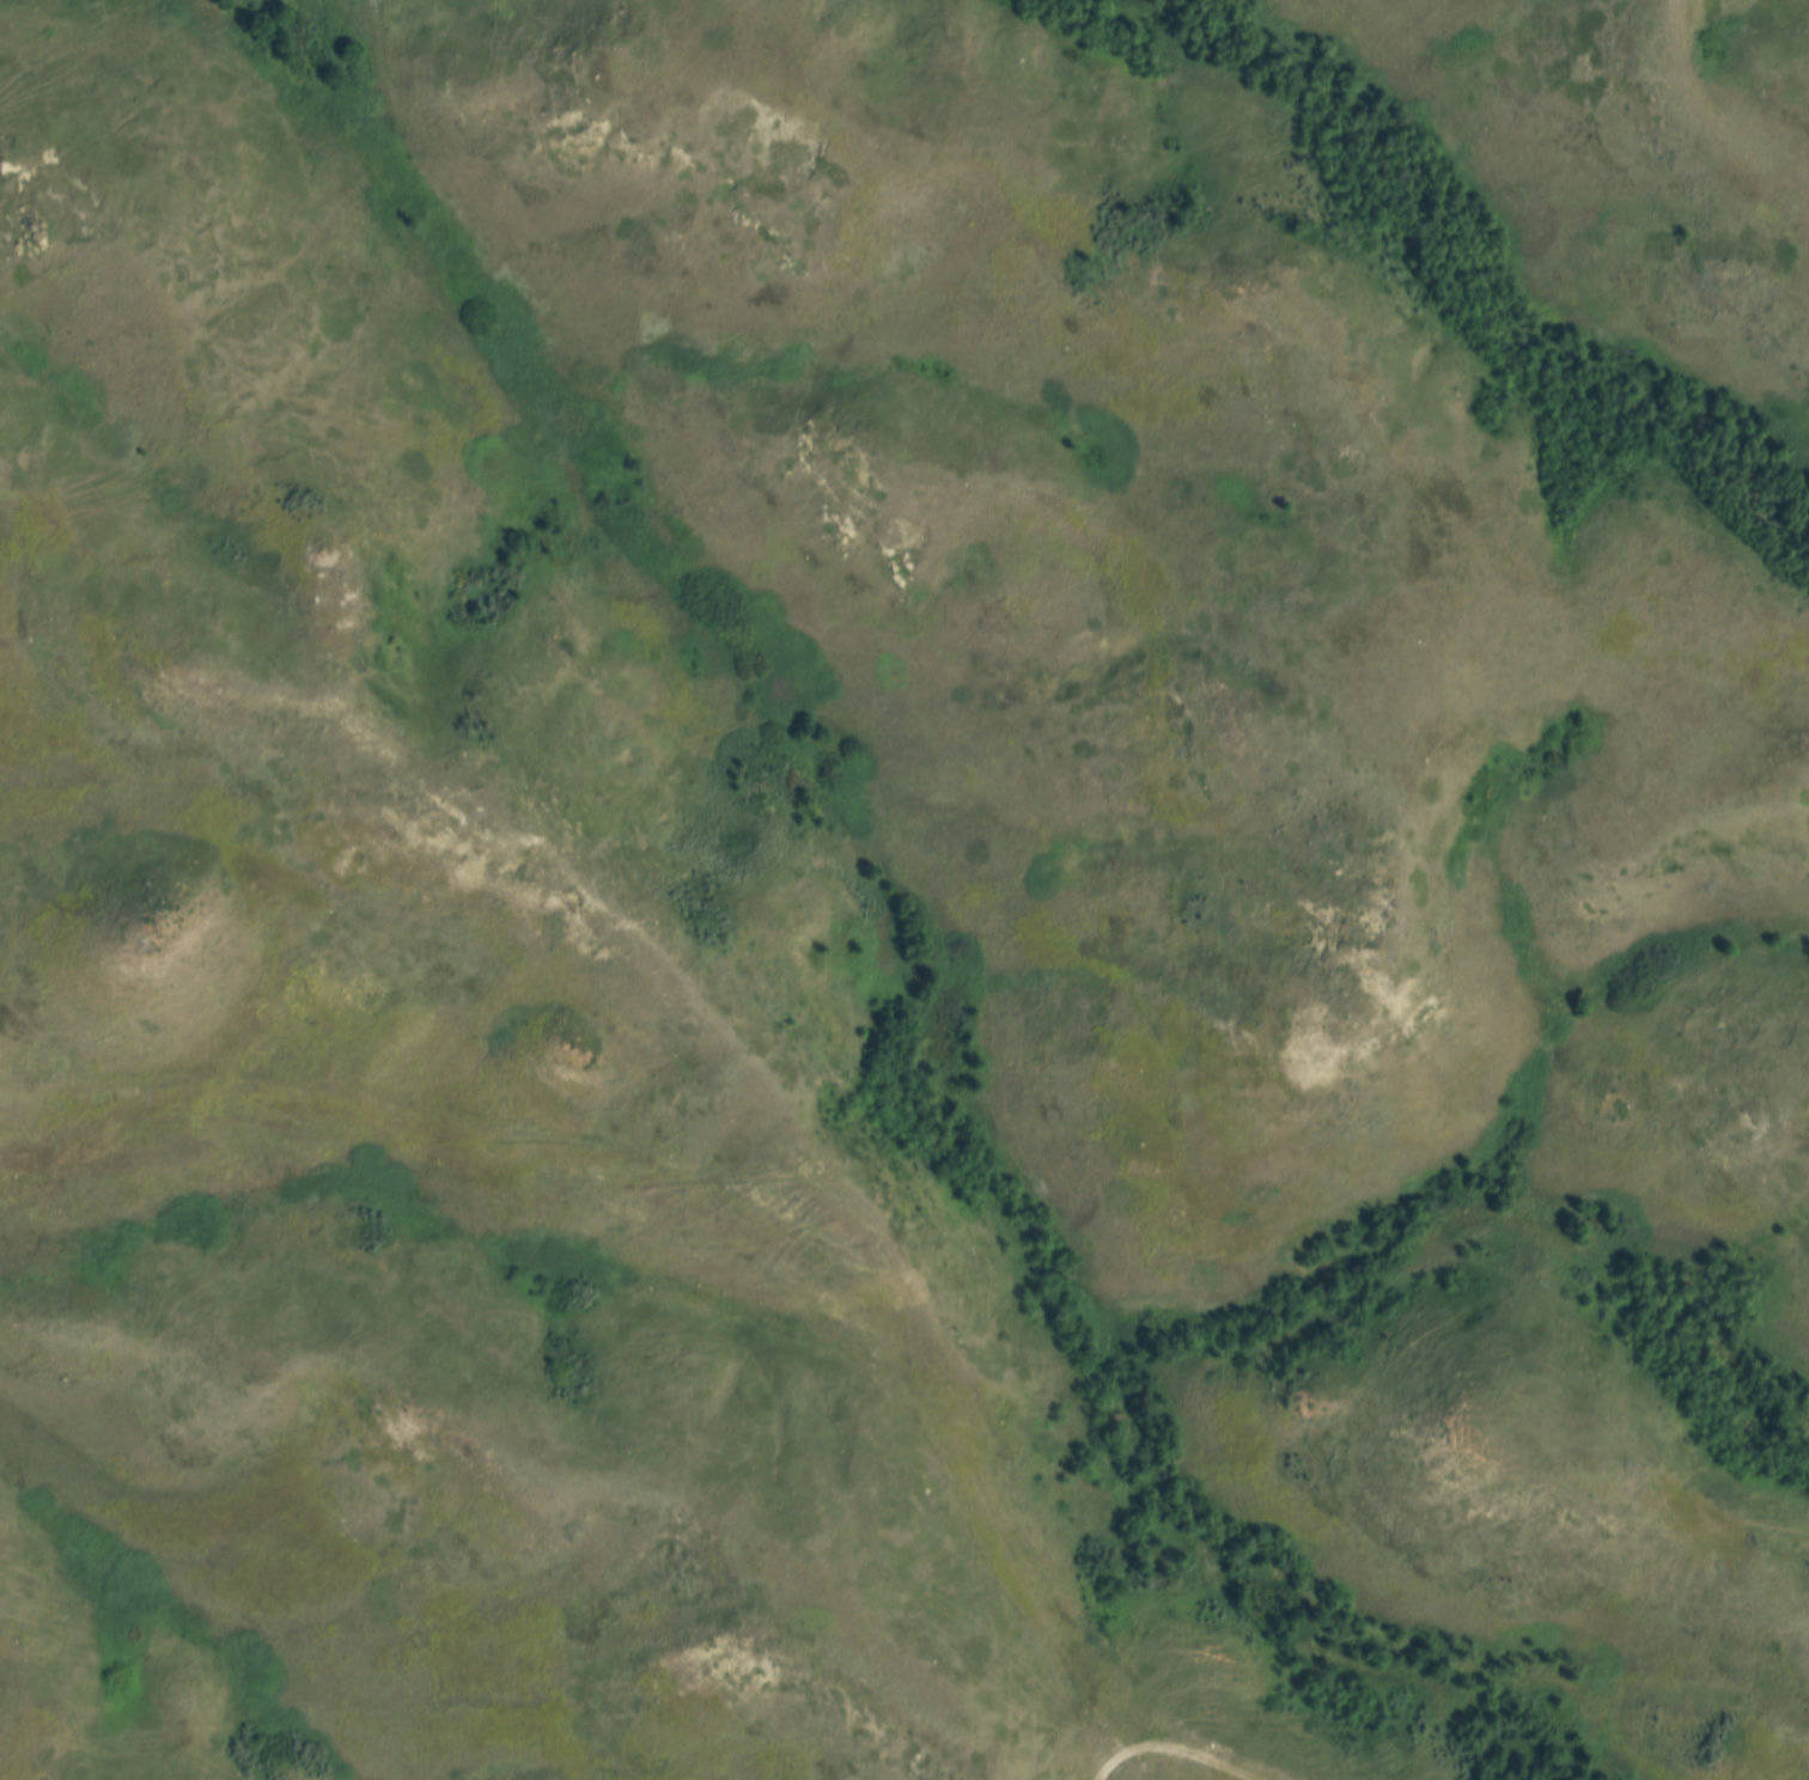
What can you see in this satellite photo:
road: (1192, 1779)

